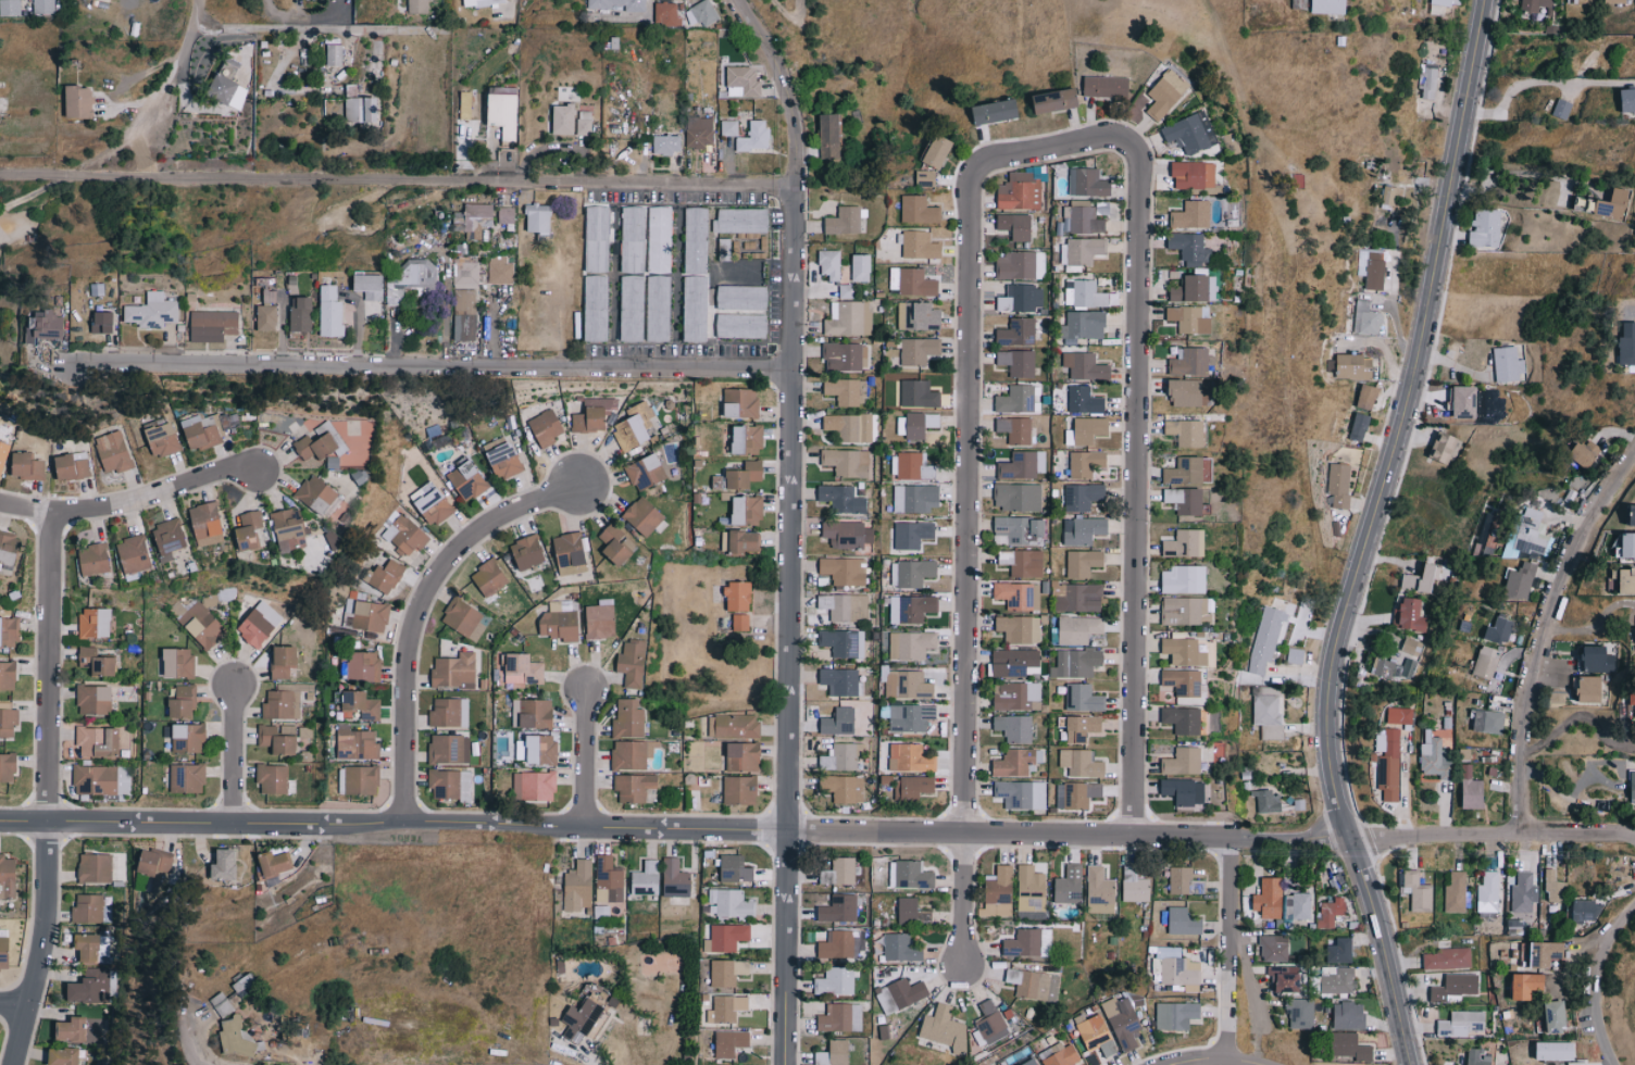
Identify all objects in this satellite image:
building: (1573, 1)
building: (1614, 1)
building: (482, 2)
building: (617, 4)
road: (653, 4)
building: (1533, 4)
building: (1443, 5)
building: (42, 7)
building: (417, 7)
building: (1328, 7)
building: (9, 8)
road: (799, 8)
building: (704, 13)
building: (666, 14)
road: (299, 15)
road: (279, 27)
road: (189, 39)
road: (773, 47)
building: (334, 55)
building: (1428, 80)
building: (742, 82)
building: (1106, 87)
building: (226, 91)
road: (1525, 92)
building: (1165, 95)
building: (1628, 100)
building: (1056, 101)
building: (79, 102)
building: (465, 105)
building: (1562, 109)
building: (360, 110)
building: (503, 110)
building: (995, 112)
building: (574, 122)
building: (728, 127)
building: (699, 131)
building: (1189, 134)
building: (754, 137)
building: (829, 139)
building: (667, 145)
building: (937, 151)
road: (1511, 174)
building: (1194, 175)
road: (400, 177)
building: (925, 178)
building: (1087, 183)
building: (1020, 192)
building: (1388, 198)
building: (1605, 204)
building: (919, 210)
building: (1191, 215)
building: (509, 216)
building: (540, 220)
building: (476, 221)
building: (741, 221)
building: (1081, 221)
building: (844, 222)
building: (1015, 226)
building: (1486, 228)
building: (597, 239)
building: (633, 239)
building: (659, 239)
building: (696, 240)
building: (919, 246)
building: (1190, 248)
building: (829, 264)
building: (1020, 265)
building: (861, 267)
building: (1371, 268)
building: (501, 271)
building: (415, 281)
building: (912, 281)
building: (377, 289)
building: (1193, 289)
building: (846, 291)
building: (1084, 295)
building: (741, 298)
building: (1021, 298)
building: (277, 299)
building: (596, 309)
building: (632, 309)
building: (658, 309)
building: (695, 309)
building: (159, 314)
building: (339, 315)
building: (918, 316)
building: (848, 318)
building: (1366, 318)
building: (1189, 319)
building: (274, 321)
building: (310, 321)
building: (1082, 325)
building: (111, 326)
building: (741, 326)
building: (220, 328)
building: (467, 328)
building: (55, 329)
building: (1016, 333)
building: (1624, 338)
building: (915, 352)
building: (845, 356)
road: (438, 362)
building: (1019, 362)
building: (1189, 362)
building: (1503, 363)
building: (1086, 366)
building: (843, 391)
building: (1186, 393)
building: (918, 394)
building: (1019, 400)
building: (1084, 401)
building: (1457, 401)
building: (740, 402)
building: (592, 414)
building: (228, 421)
building: (916, 425)
building: (851, 426)
building: (1355, 426)
building: (546, 427)
building: (633, 427)
building: (1014, 429)
building: (200, 431)
building: (1086, 431)
building: (1186, 433)
building: (161, 436)
building: (747, 438)
building: (340, 440)
building: (315, 446)
building: (1437, 447)
building: (113, 451)
building: (1574, 451)
building: (3, 452)
building: (504, 460)
building: (846, 461)
road: (798, 462)
building: (1086, 464)
building: (27, 465)
building: (72, 465)
building: (1022, 465)
building: (909, 466)
road: (1141, 467)
building: (646, 472)
building: (1187, 472)
building: (744, 475)
building: (469, 479)
building: (1337, 485)
road: (971, 492)
building: (319, 494)
building: (1018, 497)
building: (1082, 497)
building: (841, 498)
building: (914, 498)
road: (130, 499)
building: (1185, 501)
building: (435, 505)
building: (747, 509)
building: (642, 515)
building: (207, 523)
building: (249, 529)
building: (1019, 529)
building: (289, 530)
building: (1083, 530)
building: (1530, 531)
building: (847, 534)
building: (912, 534)
building: (404, 535)
road: (1368, 535)
building: (169, 537)
building: (333, 540)
building: (739, 540)
building: (616, 543)
building: (1180, 543)
building: (1623, 544)
building: (9, 546)
building: (528, 551)
building: (133, 553)
building: (570, 553)
building: (93, 559)
building: (1023, 562)
building: (1083, 562)
building: (844, 569)
building: (912, 572)
building: (386, 576)
building: (489, 577)
building: (1416, 577)
building: (1178, 578)
building: (1517, 580)
building: (1621, 580)
building: (1018, 594)
building: (738, 596)
building: (1077, 597)
road: (426, 601)
building: (845, 606)
building: (914, 607)
building: (1180, 609)
building: (365, 614)
building: (1405, 614)
building: (464, 618)
building: (600, 618)
building: (560, 621)
building: (95, 622)
building: (198, 622)
building: (740, 622)
road: (1596, 622)
building: (260, 623)
building: (1019, 628)
building: (1078, 629)
building: (1494, 629)
building: (9, 630)
building: (1263, 638)
building: (1632, 639)
road: (1549, 641)
building: (843, 642)
building: (911, 644)
building: (1180, 651)
building: (1590, 655)
building: (284, 660)
building: (97, 661)
building: (178, 661)
building: (1481, 661)
building: (632, 662)
building: (1015, 662)
building: (1076, 662)
building: (364, 665)
building: (1390, 667)
building: (522, 669)
building: (454, 671)
building: (8, 675)
building: (839, 680)
building: (1180, 681)
building: (904, 684)
building: (1578, 688)
building: (1015, 696)
building: (1083, 698)
building: (93, 699)
building: (183, 702)
building: (1628, 702)
building: (282, 704)
building: (360, 705)
building: (1265, 711)
building: (449, 712)
building: (532, 712)
building: (907, 716)
building: (628, 718)
building: (1178, 718)
road: (1576, 719)
building: (839, 721)
building: (1484, 721)
building: (8, 722)
building: (733, 726)
building: (1013, 727)
building: (1082, 727)
building: (305, 731)
building: (189, 738)
building: (278, 738)
building: (98, 741)
building: (357, 743)
road: (237, 747)
building: (448, 748)
road: (592, 748)
building: (541, 749)
building: (631, 753)
building: (744, 755)
building: (1428, 755)
building: (839, 756)
building: (910, 757)
building: (1178, 761)
building: (1014, 762)
building: (1081, 763)
building: (1386, 765)
building: (8, 766)
building: (187, 777)
building: (274, 778)
building: (93, 779)
building: (358, 779)
building: (453, 784)
building: (534, 785)
building: (1628, 786)
building: (633, 787)
building: (843, 787)
building: (912, 787)
building: (1465, 788)
road: (58, 789)
building: (740, 789)
building: (1181, 790)
building: (1021, 793)
building: (1076, 794)
building: (1263, 800)
building: (1288, 803)
road: (818, 822)
building: (275, 863)
building: (225, 864)
building: (95, 867)
building: (157, 868)
building: (735, 868)
building: (839, 872)
building: (909, 875)
building: (8, 877)
building: (646, 878)
building: (675, 878)
building: (608, 879)
building: (1069, 884)
building: (1134, 885)
building: (577, 886)
building: (1551, 886)
building: (1031, 889)
building: (1099, 890)
building: (1413, 890)
building: (1452, 892)
building: (1485, 892)
building: (1521, 892)
building: (997, 893)
building: (1265, 898)
building: (731, 903)
building: (1296, 905)
building: (87, 909)
building: (838, 909)
building: (1583, 911)
building: (912, 912)
building: (1326, 912)
building: (1183, 920)
building: (726, 937)
road: (791, 942)
building: (1028, 942)
building: (836, 944)
road: (1233, 944)
building: (900, 948)
building: (1271, 948)
building: (1337, 950)
building: (4, 953)
building: (1444, 957)
building: (1175, 967)
building: (727, 972)
road: (1588, 977)
building: (1278, 978)
building: (835, 980)
building: (1335, 980)
building: (245, 983)
building: (1034, 983)
building: (1518, 985)
building: (1451, 986)
road: (20, 994)
building: (900, 994)
building: (221, 1004)
building: (726, 1007)
building: (1297, 1012)
building: (1548, 1014)
building: (1176, 1015)
building: (1344, 1015)
building: (840, 1017)
building: (583, 1019)
building: (1122, 1022)
building: (1461, 1022)
building: (945, 1028)
building: (73, 1029)
building: (1096, 1035)
building: (235, 1037)
building: (729, 1042)
building: (1346, 1045)
road: (195, 1047)
building: (1548, 1050)
building: (834, 1053)
road: (1214, 1054)
building: (64, 1056)
building: (1472, 1057)
building: (1033, 1062)

